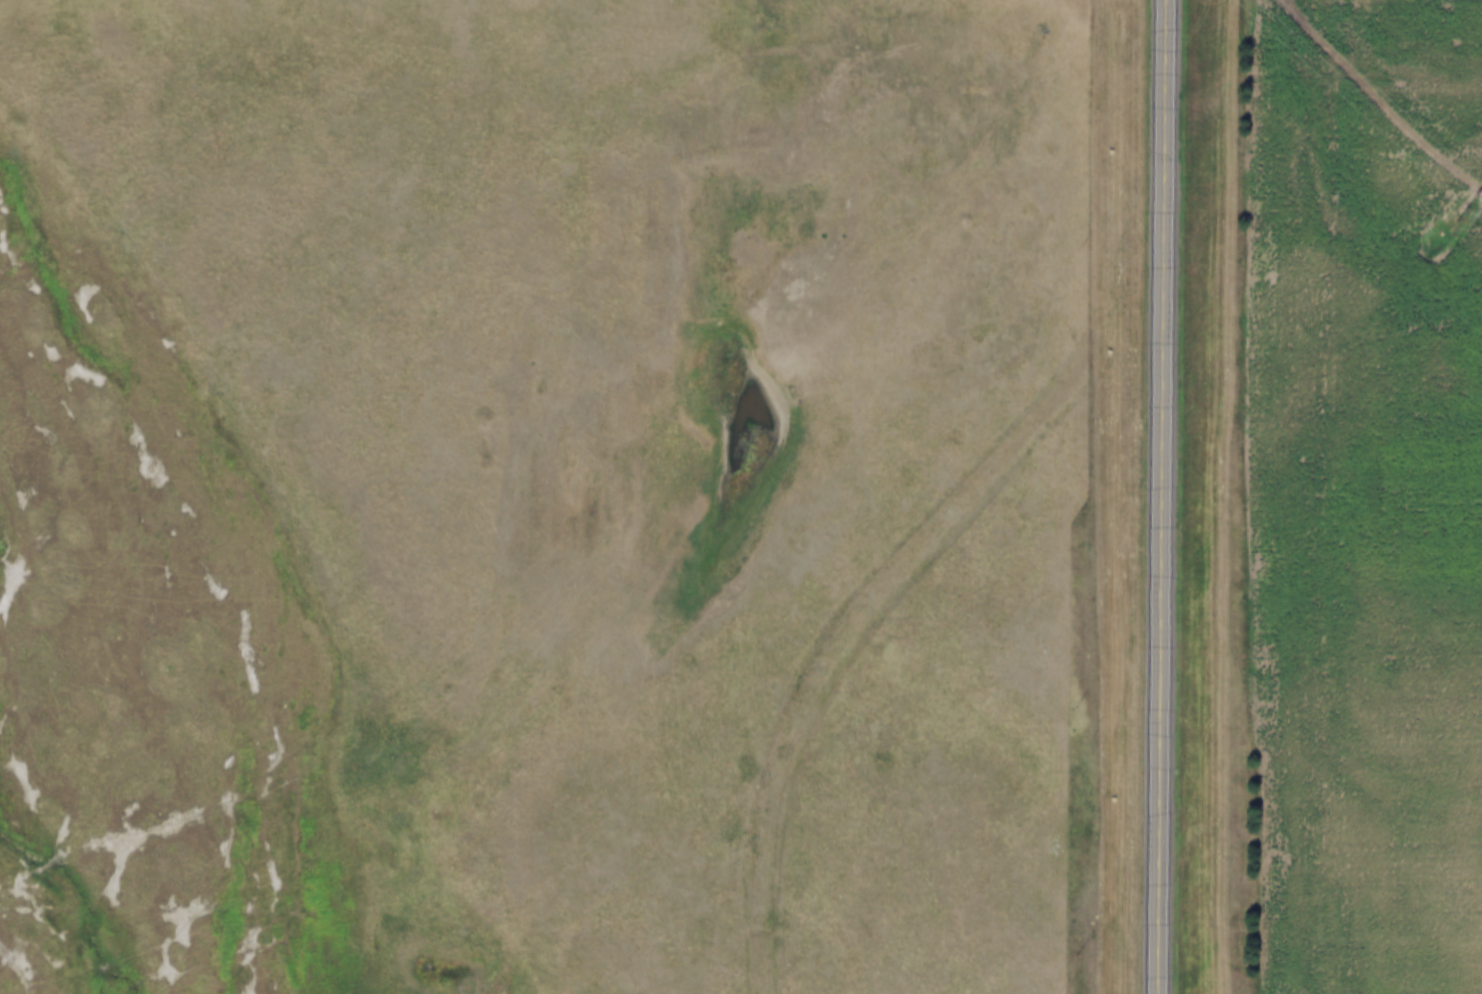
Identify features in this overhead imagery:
power tower: (1470, 208)
road: (1164, 497)

